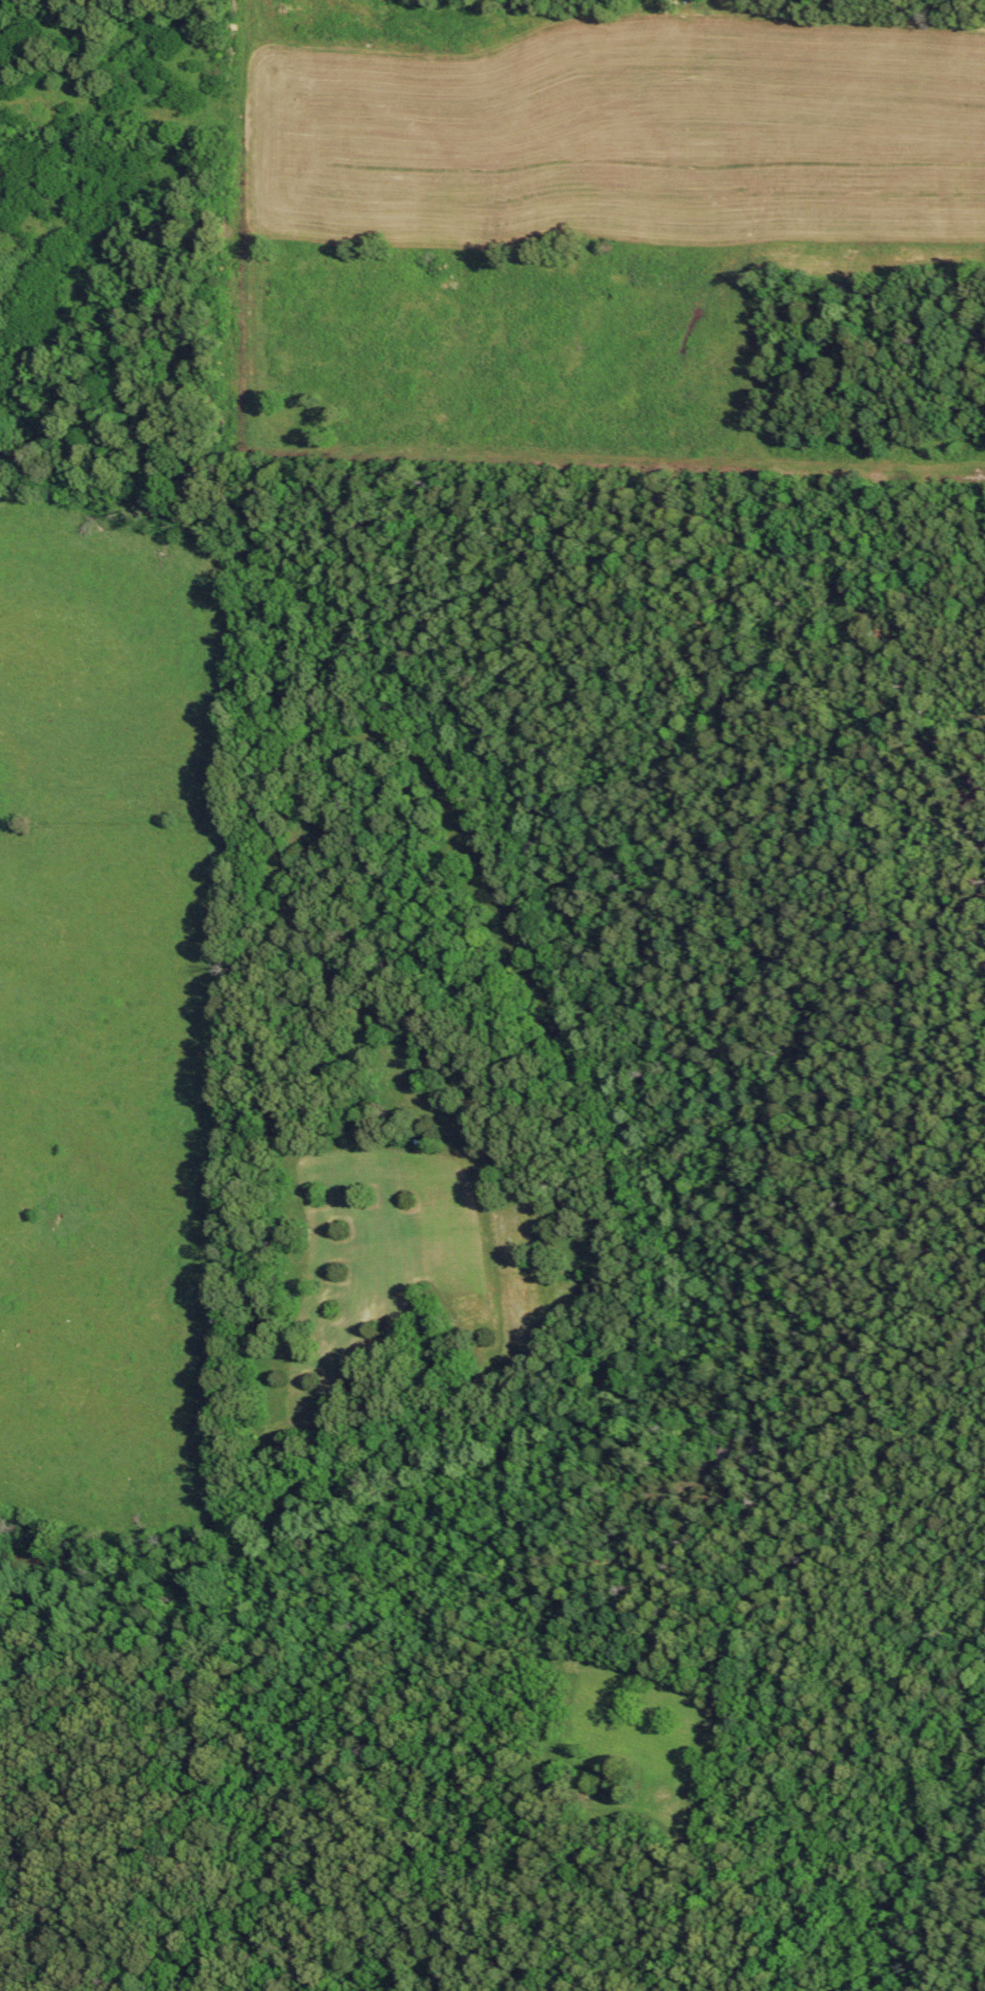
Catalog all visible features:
park: (152, 1757)

